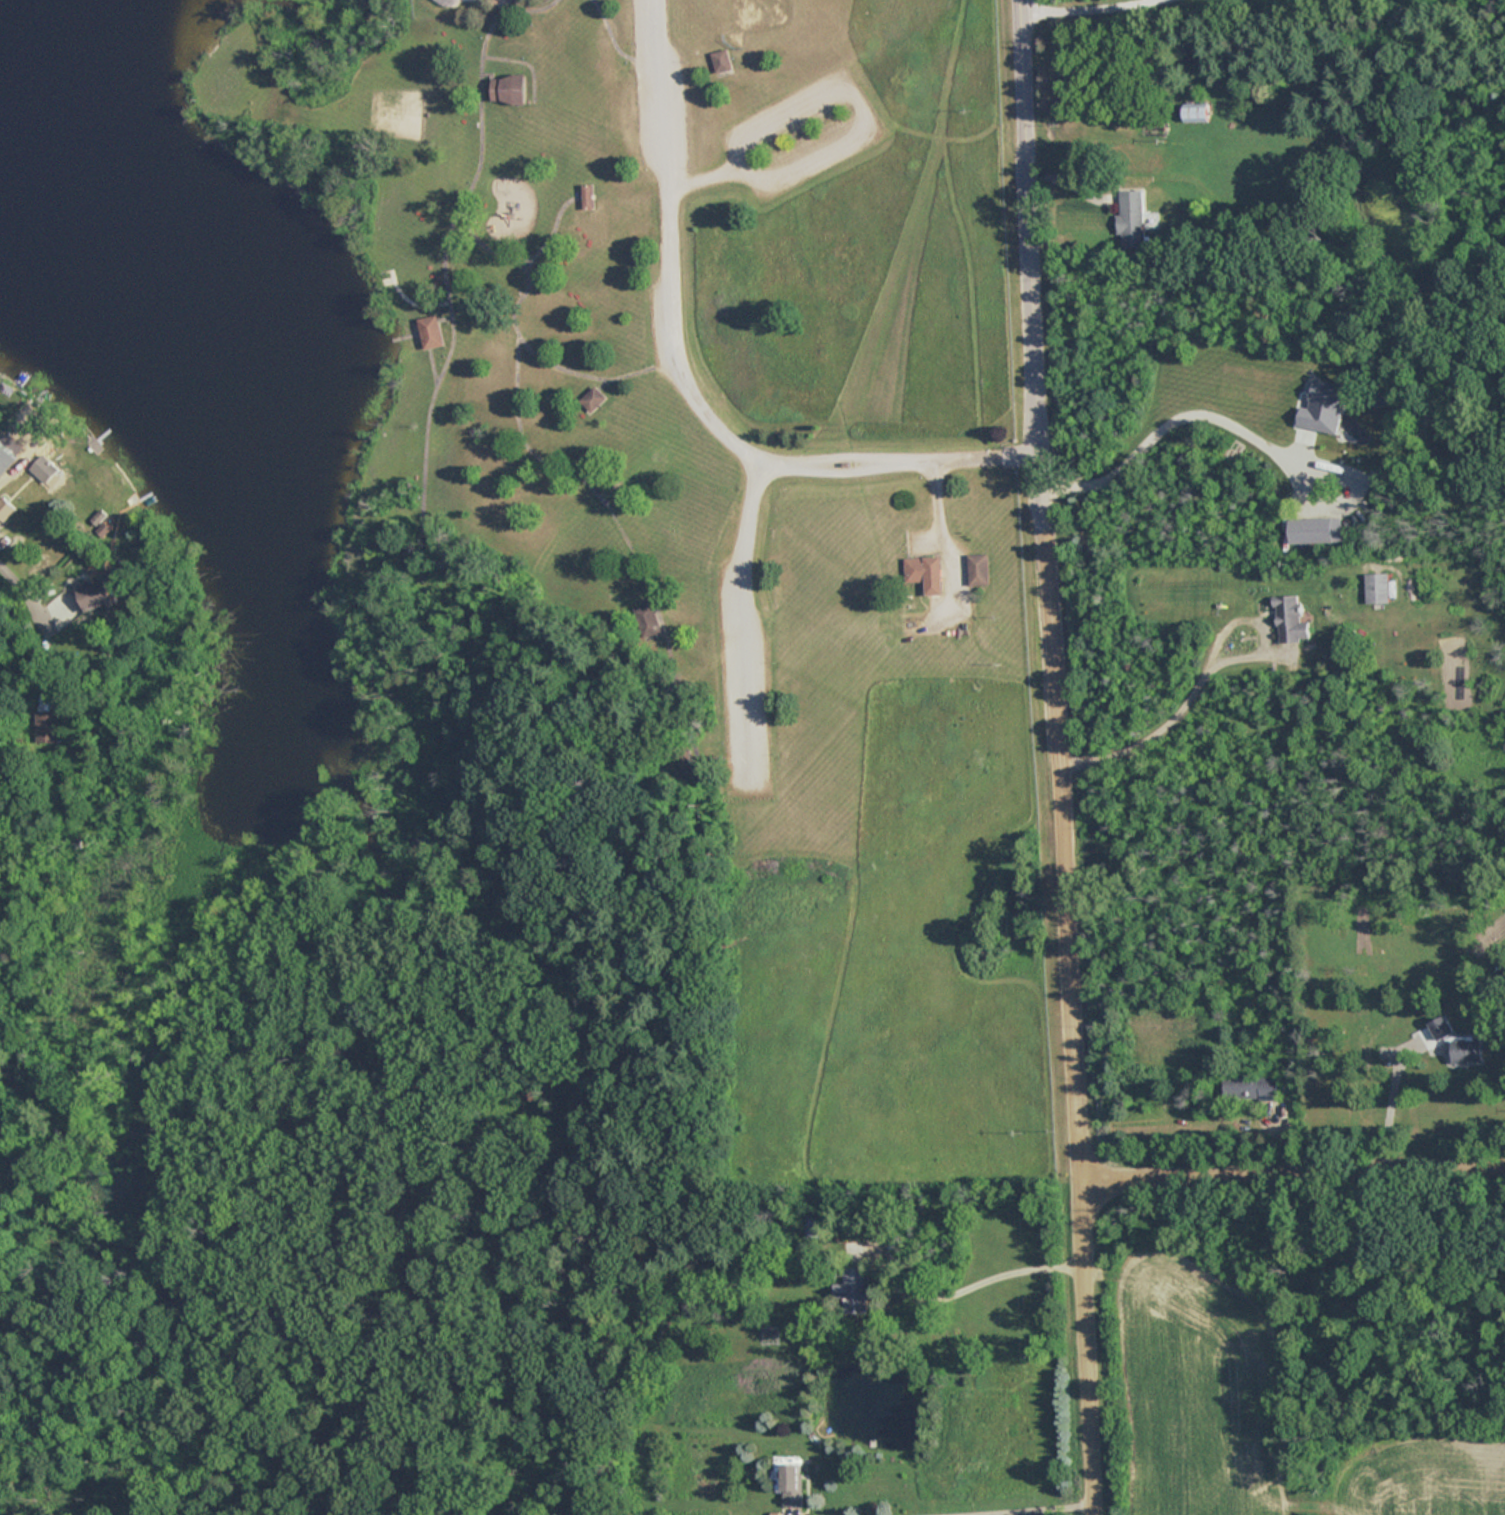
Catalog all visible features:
water park: (452, 2)
park: (764, 14)
road: (614, 26)
road: (490, 39)
building: (725, 49)
building: (723, 60)
building: (507, 88)
park: (386, 93)
building: (1197, 113)
parking lot: (793, 128)
building: (590, 185)
building: (1131, 213)
road: (529, 238)
road: (1035, 261)
road: (446, 270)
building: (429, 318)
building: (429, 332)
road: (552, 351)
road: (690, 378)
building: (596, 387)
building: (593, 399)
road: (1186, 406)
building: (6, 455)
road: (570, 460)
building: (46, 469)
park: (742, 481)
building: (8, 509)
road: (750, 511)
road: (948, 526)
building: (984, 562)
building: (928, 563)
building: (1378, 588)
building: (98, 593)
road: (42, 599)
building: (655, 615)
building: (1291, 619)
parking lot: (753, 628)
road: (1206, 663)
building: (49, 727)
road: (1076, 1018)
building: (1459, 1044)
building: (1253, 1087)
road: (1295, 1162)
road: (1012, 1269)
building: (854, 1290)
building: (792, 1484)
road: (1010, 1507)

